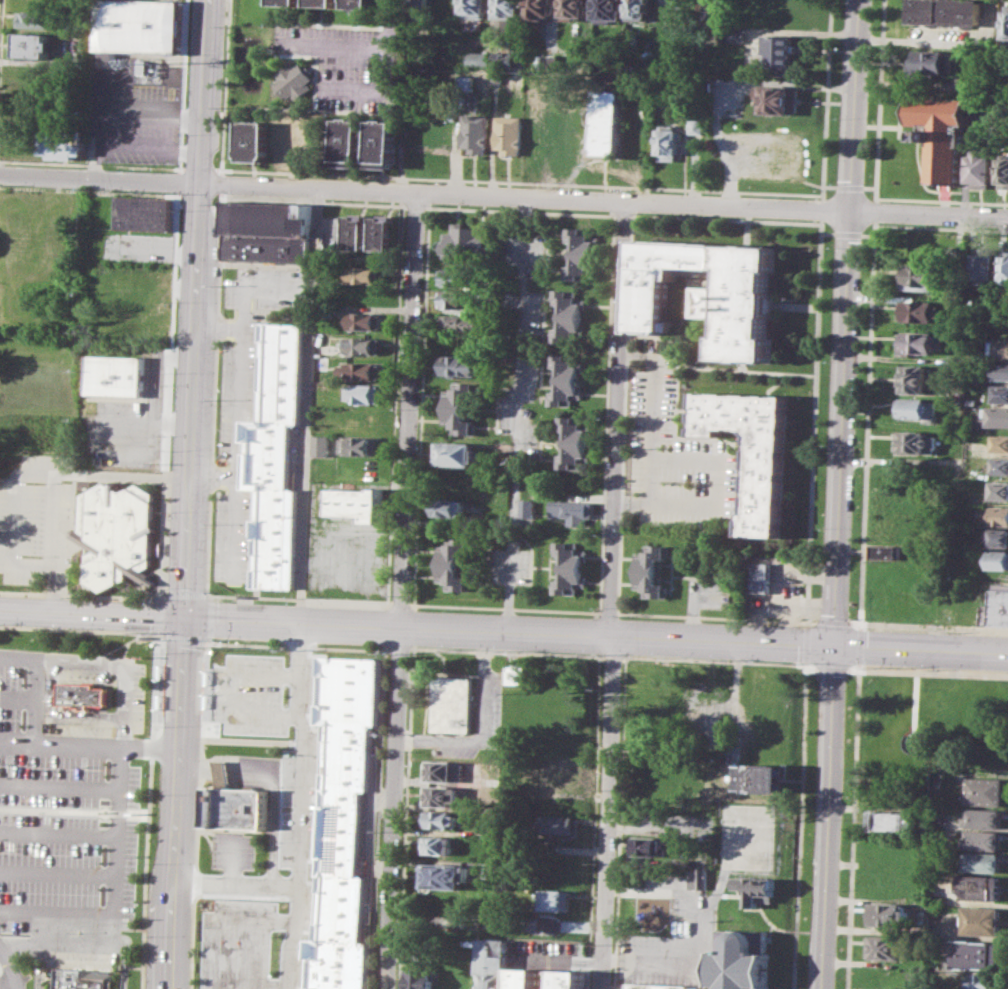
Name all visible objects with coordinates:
building: (286, 2)
building: (323, 2)
building: (360, 4)
building: (420, 7)
building: (540, 8)
building: (475, 9)
building: (573, 9)
building: (609, 11)
building: (508, 12)
building: (639, 12)
building: (946, 12)
building: (34, 19)
building: (1006, 23)
building: (137, 25)
building: (737, 34)
road: (1, 38)
building: (38, 44)
road: (359, 45)
street lamp: (187, 52)
building: (779, 54)
building: (480, 59)
building: (935, 61)
parking lot: (348, 63)
building: (294, 80)
road: (183, 85)
road: (224, 86)
road: (377, 91)
building: (778, 98)
road: (826, 99)
road: (879, 100)
road: (119, 112)
parking lot: (136, 114)
building: (608, 123)
building: (696, 126)
building: (476, 132)
street lamp: (184, 133)
building: (943, 134)
building: (511, 135)
building: (254, 140)
building: (65, 142)
building: (351, 142)
building: (291, 143)
building: (669, 143)
building: (384, 144)
road: (150, 146)
road: (89, 163)
building: (981, 169)
building: (1003, 170)
road: (100, 179)
road: (179, 181)
road: (522, 182)
road: (220, 183)
road: (829, 185)
road: (850, 186)
road: (870, 187)
road: (89, 191)
road: (525, 195)
road: (221, 196)
road: (942, 199)
road: (415, 203)
road: (822, 208)
street lamp: (180, 209)
road: (522, 210)
road: (876, 211)
road: (624, 212)
building: (144, 213)
road: (929, 215)
road: (727, 218)
road: (875, 223)
building: (267, 231)
building: (358, 231)
building: (384, 233)
road: (828, 233)
road: (847, 233)
road: (868, 234)
building: (470, 240)
building: (580, 253)
building: (984, 266)
building: (1004, 268)
building: (366, 272)
building: (455, 277)
building: (919, 277)
building: (708, 293)
building: (453, 298)
street lamp: (177, 301)
road: (218, 306)
building: (918, 310)
building: (24, 312)
building: (568, 315)
building: (364, 320)
building: (460, 322)
building: (134, 324)
road: (220, 328)
road: (699, 341)
building: (915, 343)
building: (363, 344)
parking lot: (252, 345)
building: (999, 348)
road: (631, 352)
road: (870, 356)
building: (459, 364)
road: (711, 366)
building: (362, 369)
building: (1000, 370)
street lamp: (175, 371)
building: (119, 375)
building: (974, 377)
building: (566, 378)
building: (913, 379)
building: (366, 393)
building: (999, 393)
road: (169, 396)
road: (395, 402)
road: (422, 402)
road: (159, 404)
road: (308, 405)
road: (241, 406)
building: (459, 408)
building: (915, 408)
road: (607, 411)
road: (625, 411)
road: (517, 414)
building: (995, 416)
road: (814, 418)
road: (652, 433)
building: (573, 442)
building: (914, 442)
building: (998, 443)
building: (321, 445)
building: (362, 445)
road: (107, 447)
building: (752, 448)
street lamp: (172, 449)
building: (453, 454)
building: (281, 455)
parking lot: (679, 460)
building: (998, 464)
road: (124, 476)
road: (20, 477)
road: (213, 477)
building: (997, 489)
road: (189, 494)
road: (838, 494)
road: (619, 502)
building: (358, 503)
building: (525, 507)
street lamp: (215, 509)
building: (455, 509)
street lamp: (169, 511)
building: (571, 511)
building: (998, 515)
parking lot: (38, 518)
building: (118, 533)
parking lot: (236, 536)
building: (997, 537)
building: (885, 551)
street lamp: (213, 560)
parking lot: (347, 560)
building: (996, 560)
building: (455, 562)
building: (569, 567)
building: (651, 571)
building: (759, 574)
street lamp: (167, 588)
road: (58, 589)
road: (404, 590)
road: (81, 593)
road: (165, 594)
road: (187, 594)
street lamp: (391, 594)
road: (211, 595)
road: (608, 595)
street lamp: (157, 598)
road: (301, 598)
road: (400, 602)
building: (995, 603)
road: (504, 607)
road: (607, 611)
road: (160, 615)
road: (715, 616)
road: (211, 618)
street lamp: (849, 618)
traffic signals: (184, 619)
street lamp: (814, 619)
road: (832, 621)
road: (858, 622)
road: (934, 625)
street lamp: (72, 626)
road: (83, 629)
street lamp: (142, 629)
road: (503, 632)
road: (185, 637)
road: (209, 639)
street lamp: (213, 639)
road: (859, 645)
traffic signals: (833, 647)
road: (400, 648)
road: (387, 649)
street lamp: (411, 650)
road: (504, 650)
street lamp: (507, 650)
street lamp: (164, 652)
street lamp: (243, 652)
road: (611, 655)
street lamp: (661, 659)
road: (719, 661)
street lamp: (720, 662)
street lamp: (286, 663)
road: (104, 664)
road: (859, 665)
street lamp: (794, 666)
road: (831, 666)
street lamp: (876, 666)
road: (853, 667)
street lamp: (931, 668)
street lamp: (621, 670)
road: (962, 671)
building: (513, 672)
street lamp: (12, 677)
street lamp: (846, 686)
street lamp: (214, 693)
road: (232, 693)
building: (85, 694)
parking lot: (249, 694)
building: (452, 704)
road: (68, 711)
park: (935, 719)
street lamp: (162, 725)
road: (913, 728)
street lamp: (291, 729)
road: (381, 730)
street lamp: (245, 736)
road: (16, 741)
road: (46, 742)
street lamp: (619, 743)
street lamp: (843, 746)
road: (160, 747)
street lamp: (9, 763)
street lamp: (86, 766)
building: (444, 771)
building: (555, 774)
building: (760, 777)
building: (936, 778)
building: (488, 780)
road: (274, 784)
road: (63, 785)
street lamp: (280, 785)
building: (985, 791)
street lamp: (157, 794)
building: (441, 795)
road: (853, 799)
building: (241, 807)
road: (302, 807)
road: (150, 809)
road: (199, 813)
building: (983, 818)
parking lot: (301, 819)
building: (440, 819)
street lamp: (840, 819)
building: (344, 821)
building: (893, 821)
building: (555, 823)
road: (62, 825)
parking lot: (62, 827)
building: (489, 833)
street lamp: (614, 837)
park: (749, 839)
building: (982, 839)
street lamp: (279, 840)
building: (437, 844)
street lamp: (6, 845)
street lamp: (84, 848)
building: (647, 848)
parking lot: (233, 851)
street lamp: (210, 852)
street lamp: (256, 854)
road: (233, 860)
street lamp: (153, 862)
building: (981, 862)
road: (62, 868)
building: (443, 876)
building: (695, 877)
road: (237, 883)
building: (977, 887)
street lamp: (838, 889)
building: (756, 890)
street lamp: (233, 898)
street lamp: (274, 899)
building: (554, 899)
building: (659, 906)
road: (122, 910)
road: (61, 912)
building: (887, 915)
building: (979, 920)
street lamp: (202, 926)
street lamp: (13, 931)
street lamp: (80, 931)
street lamp: (611, 932)
street lamp: (142, 940)
parking lot: (237, 943)
parking lot: (670, 945)
building: (884, 947)
road: (223, 948)
street lamp: (277, 948)
street lamp: (835, 953)
building: (974, 954)
building: (739, 959)
building: (493, 963)
road: (9, 972)
building: (79, 978)
street lamp: (199, 978)
building: (422, 978)
building: (525, 978)
building: (569, 979)
building: (980, 981)
road: (7, 984)
building: (660, 986)

